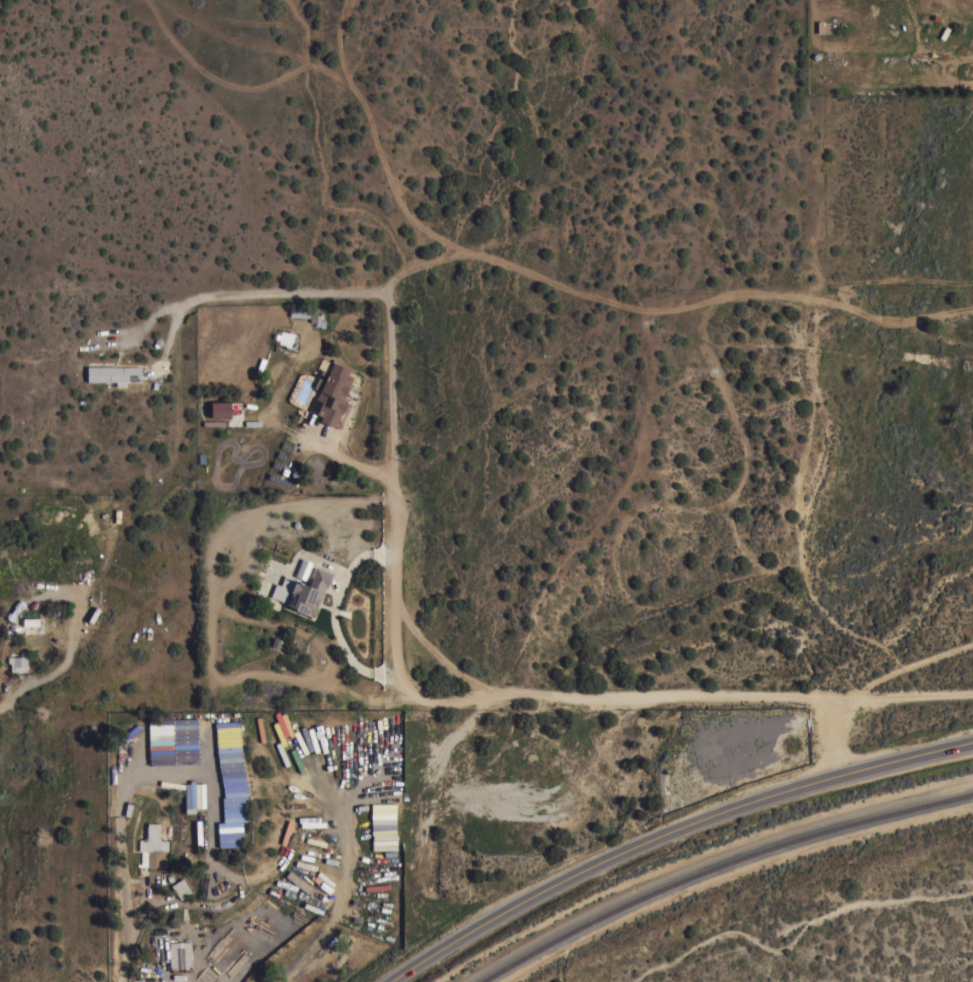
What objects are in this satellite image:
road: (354, 292)
road: (218, 298)
road: (671, 309)
building: (304, 312)
building: (113, 374)
building: (331, 393)
building: (220, 409)
road: (743, 445)
road: (352, 462)
road: (395, 484)
road: (801, 555)
building: (302, 570)
building: (302, 591)
road: (335, 611)
building: (31, 622)
road: (439, 659)
building: (18, 662)
road: (909, 668)
road: (54, 675)
road: (675, 696)
building: (184, 731)
building: (182, 759)
building: (383, 827)
road: (666, 829)
building: (155, 846)
railway: (720, 868)
building: (181, 888)
road: (122, 954)
building: (180, 954)

